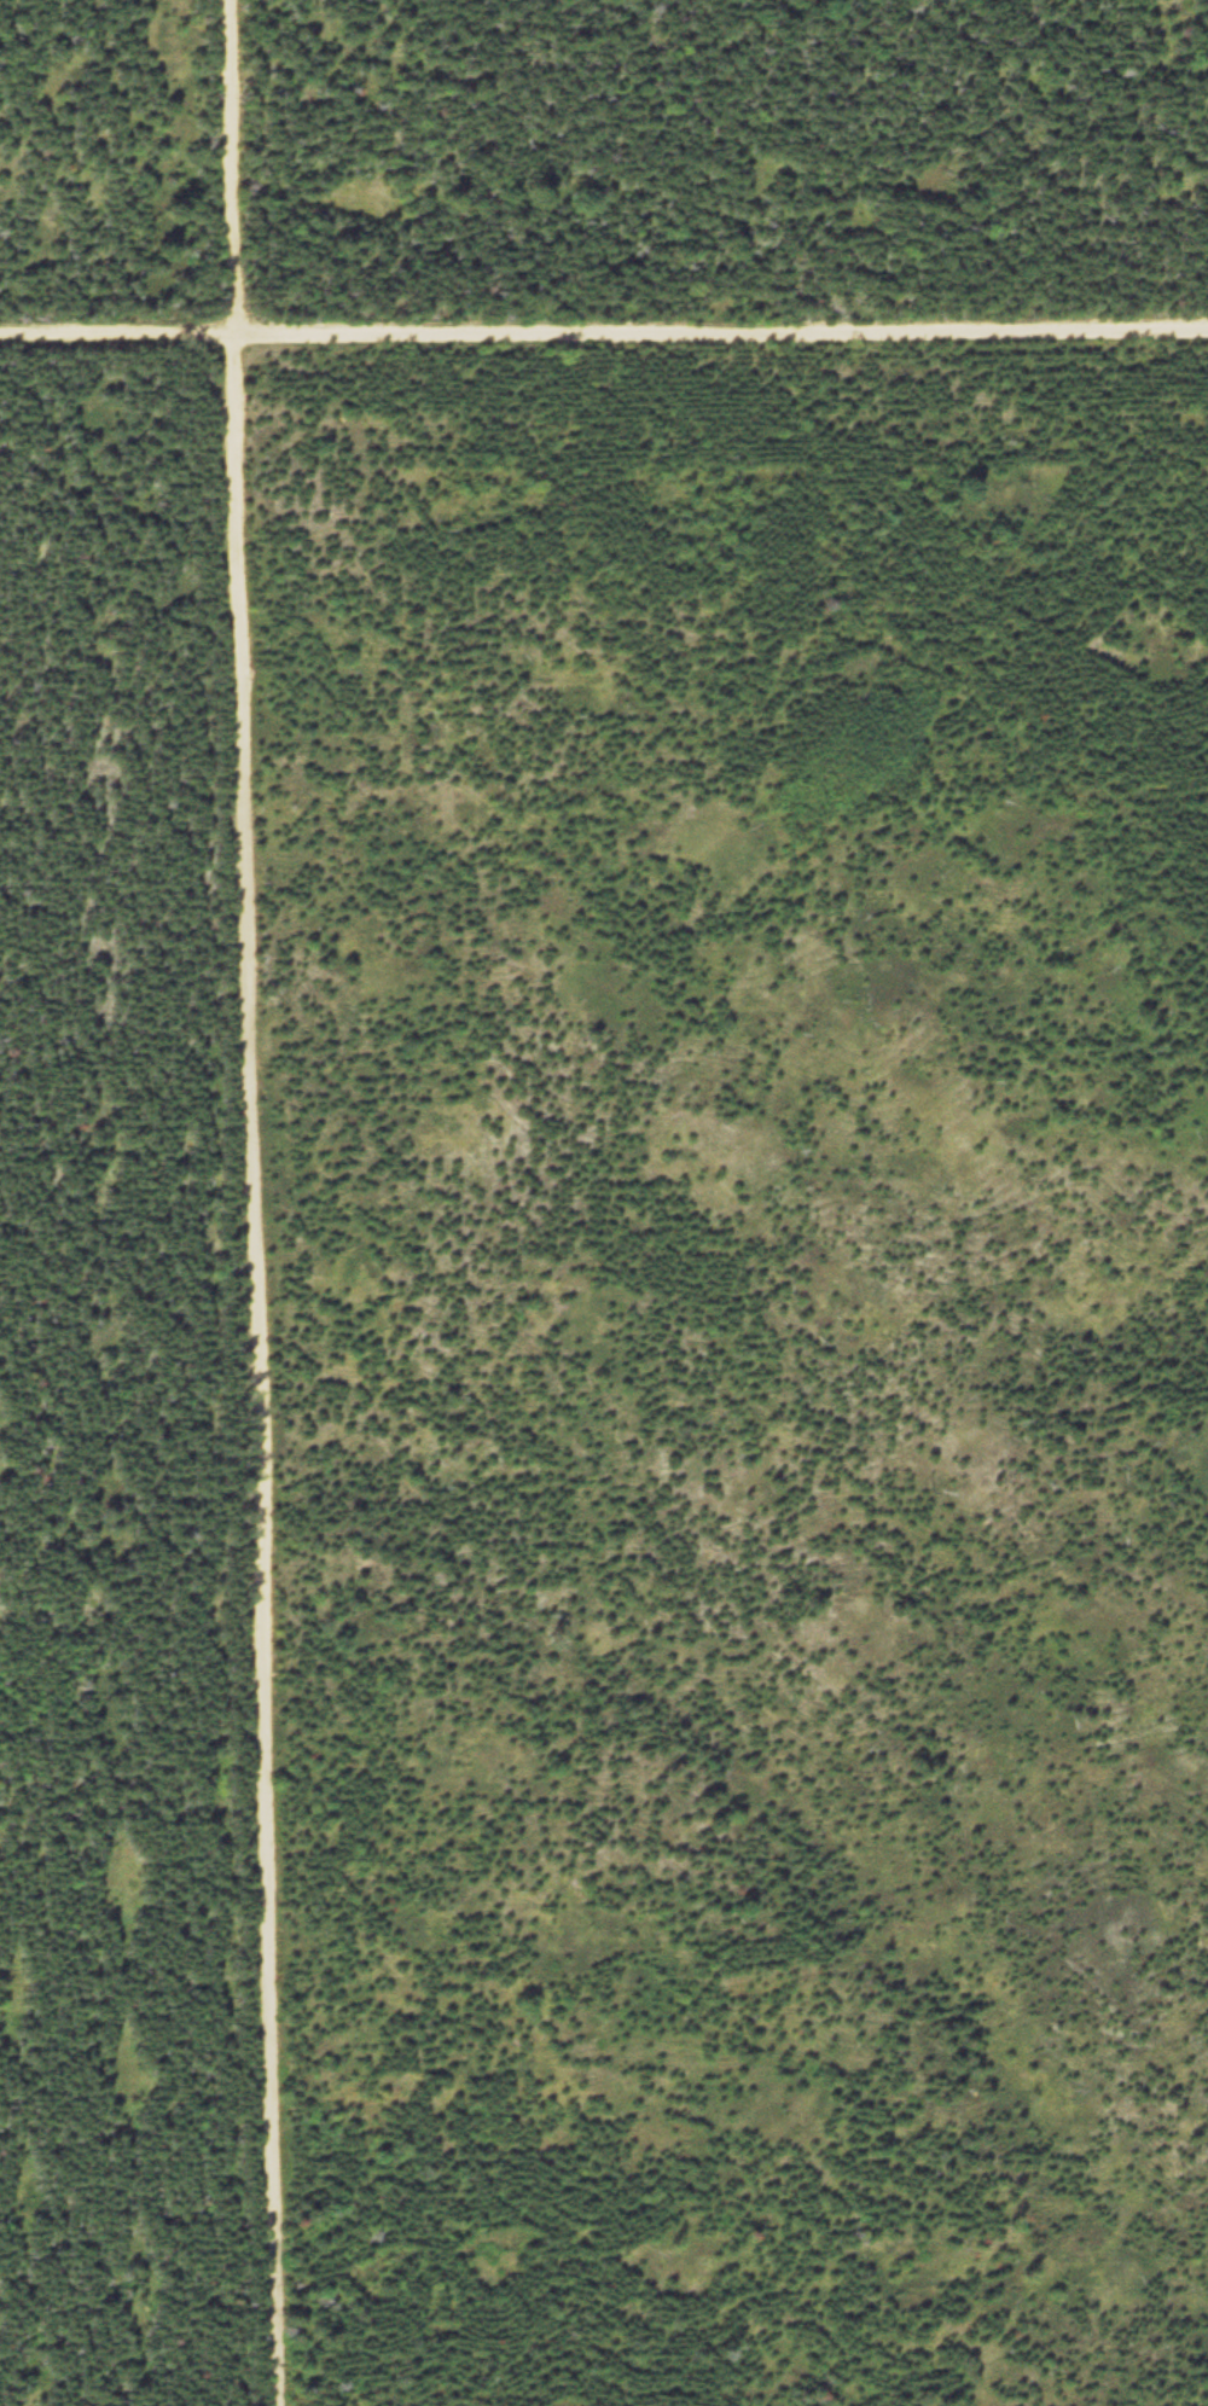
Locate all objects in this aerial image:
road: (603, 333)
road: (257, 1203)

